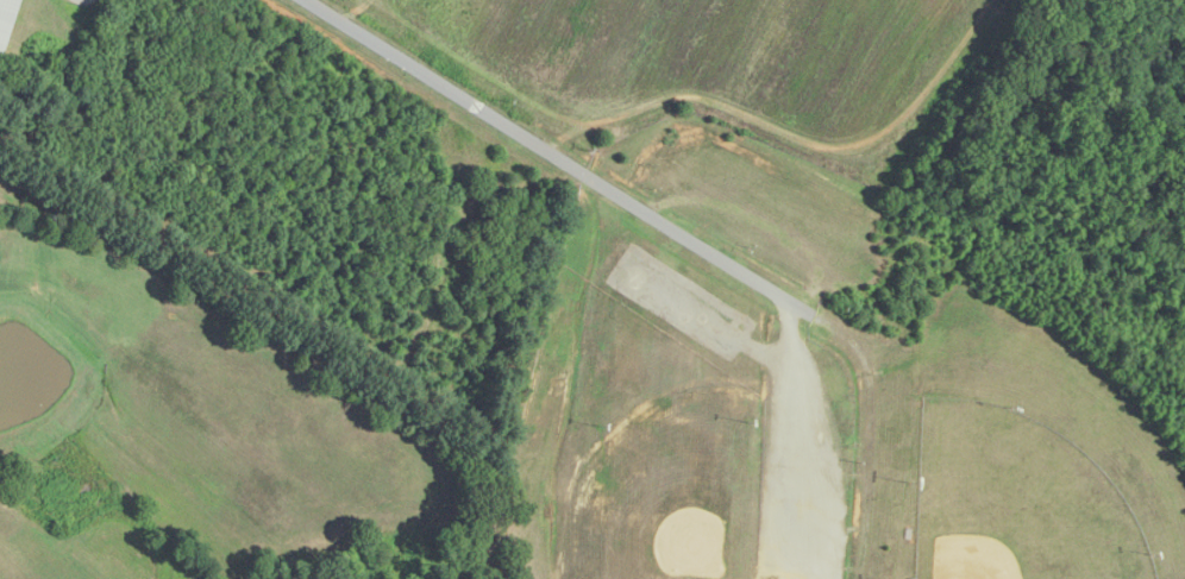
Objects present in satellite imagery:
building: (6, 20)
road: (547, 149)
park: (1015, 501)

